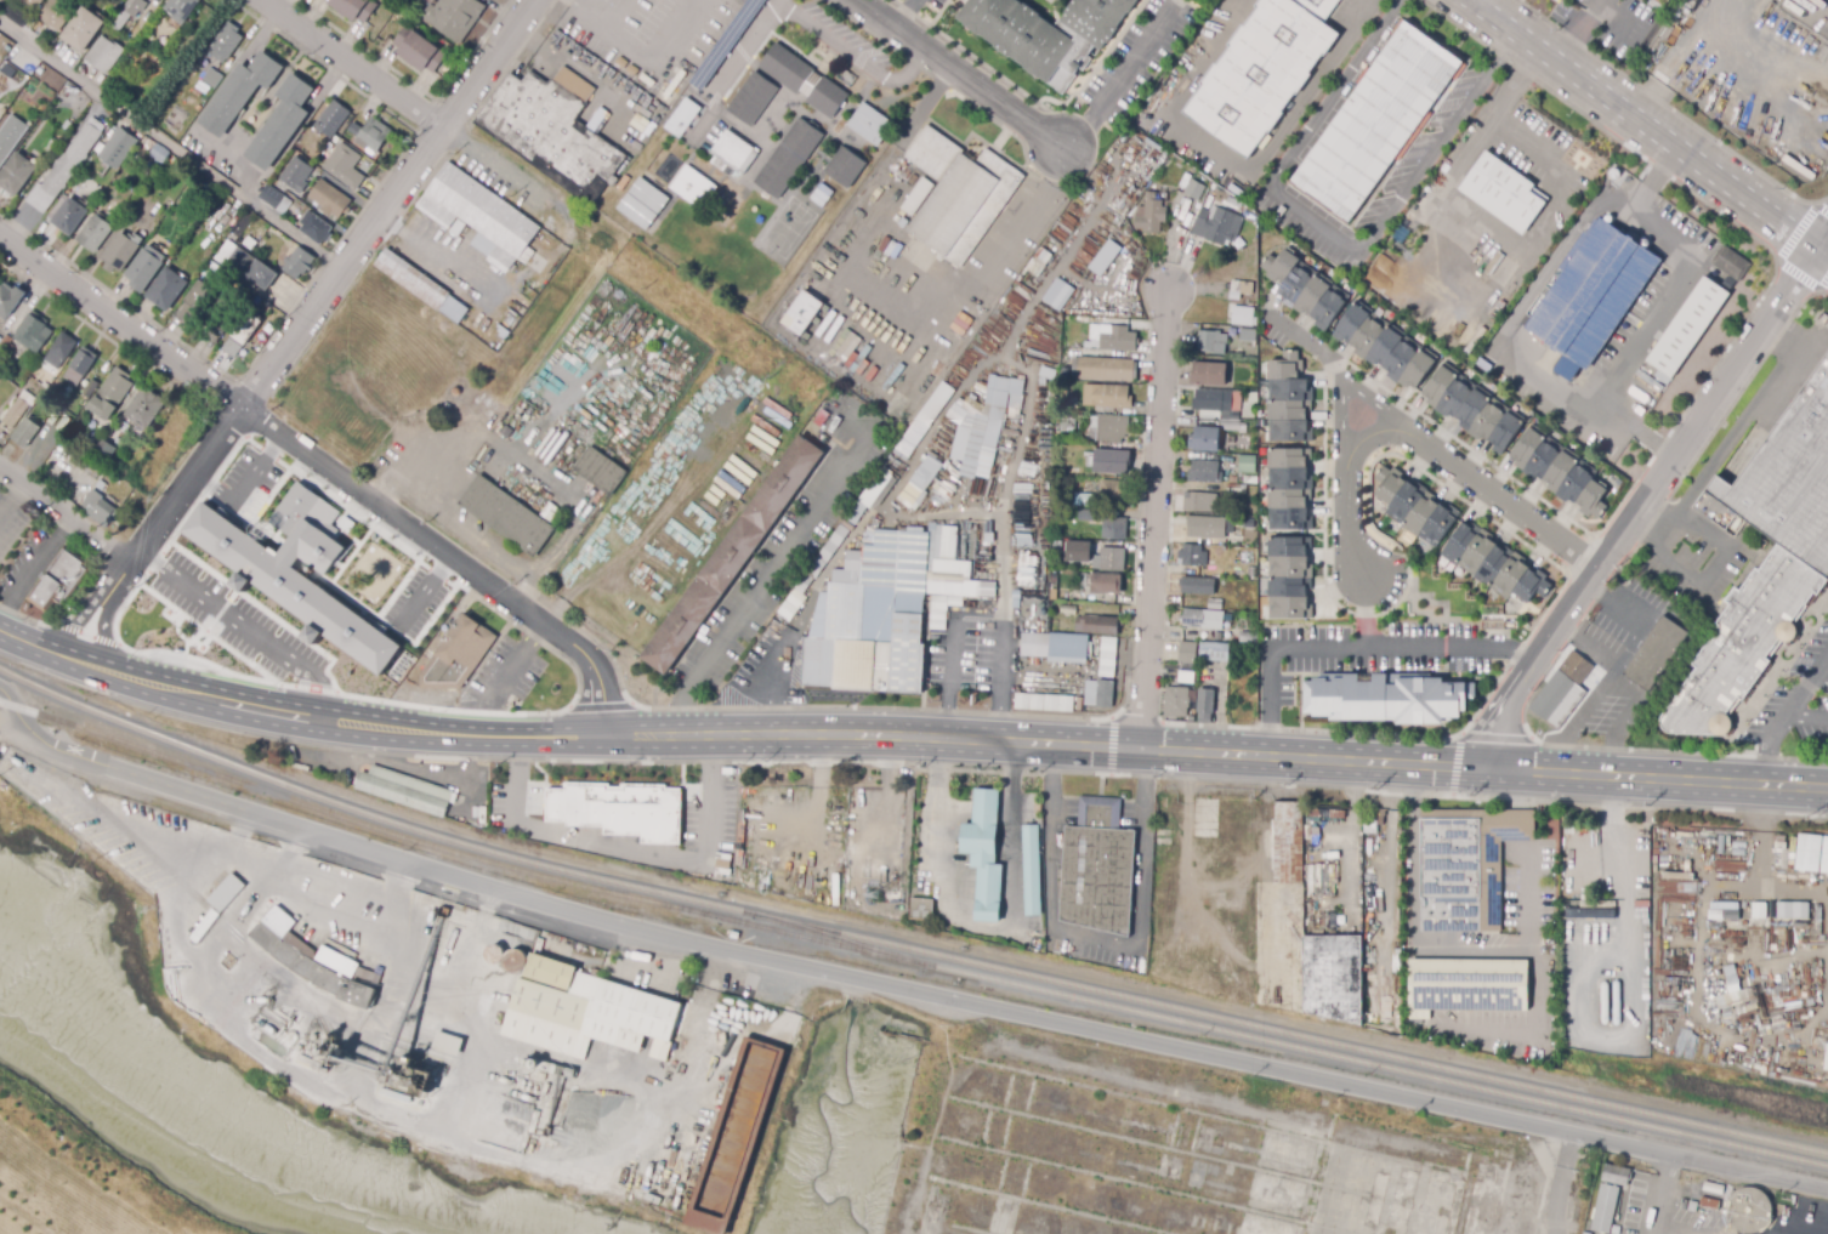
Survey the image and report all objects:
building: (1556, 0)
building: (1561, 0)
road: (1827, 0)
road: (773, 2)
road: (282, 5)
road: (771, 7)
building: (181, 8)
building: (354, 8)
building: (21, 11)
building: (129, 12)
road: (904, 12)
building: (51, 13)
building: (455, 19)
road: (1573, 30)
building: (80, 33)
building: (126, 33)
building: (1046, 34)
building: (227, 41)
building: (419, 50)
building: (104, 55)
building: (784, 67)
building: (1262, 70)
road: (964, 75)
building: (212, 76)
road: (1120, 78)
building: (810, 83)
building: (199, 91)
building: (239, 93)
building: (662, 96)
building: (751, 98)
building: (824, 98)
road: (401, 99)
road: (1491, 113)
building: (685, 114)
building: (331, 119)
building: (280, 123)
building: (1373, 123)
building: (868, 124)
road: (1644, 126)
building: (641, 130)
building: (552, 131)
building: (373, 135)
building: (10, 137)
road: (1305, 138)
road: (171, 143)
road: (1438, 144)
building: (51, 146)
building: (118, 148)
building: (157, 153)
building: (731, 153)
building: (790, 154)
road: (1234, 163)
building: (291, 166)
building: (842, 166)
building: (66, 167)
building: (342, 169)
building: (16, 174)
building: (625, 181)
building: (691, 188)
building: (1193, 189)
building: (1501, 193)
building: (956, 195)
building: (819, 197)
building: (274, 199)
building: (329, 199)
building: (1234, 201)
building: (642, 203)
building: (723, 206)
building: (1248, 214)
building: (478, 215)
building: (1151, 215)
building: (69, 217)
building: (898, 220)
building: (1217, 226)
building: (314, 228)
building: (95, 232)
road: (1824, 246)
road: (998, 248)
building: (121, 251)
road: (1824, 255)
building: (1105, 258)
building: (1728, 262)
building: (297, 263)
building: (244, 267)
building: (1498, 268)
building: (143, 269)
building: (424, 284)
building: (1241, 286)
building: (166, 290)
building: (1589, 294)
building: (1058, 295)
road: (322, 296)
building: (10, 301)
building: (195, 302)
road: (1654, 308)
building: (800, 312)
building: (1243, 317)
building: (218, 325)
building: (1684, 328)
building: (503, 332)
building: (1247, 334)
building: (28, 336)
building: (1112, 339)
building: (238, 340)
building: (1211, 342)
road: (1316, 343)
building: (62, 348)
building: (45, 363)
building: (80, 366)
building: (1105, 369)
building: (1045, 373)
building: (1209, 374)
road: (1345, 386)
building: (1440, 386)
building: (90, 388)
building: (110, 393)
building: (1063, 394)
building: (1106, 397)
building: (1253, 397)
building: (1214, 403)
building: (144, 409)
building: (999, 411)
building: (12, 416)
building: (924, 421)
building: (1098, 426)
building: (27, 433)
building: (1213, 436)
building: (961, 444)
road: (1425, 444)
building: (103, 451)
building: (1108, 462)
building: (1247, 465)
building: (93, 468)
road: (327, 470)
building: (602, 470)
building: (1204, 472)
building: (919, 483)
building: (101, 485)
building: (1215, 487)
building: (1251, 490)
building: (1291, 490)
building: (942, 491)
building: (1114, 491)
road: (1006, 494)
building: (867, 499)
building: (1082, 500)
building: (1203, 504)
road: (1644, 506)
building: (100, 510)
building: (552, 511)
building: (509, 513)
road: (64, 514)
building: (1088, 516)
road: (252, 521)
road: (1153, 522)
building: (1248, 522)
building: (1113, 528)
building: (1209, 528)
building: (989, 538)
building: (1457, 540)
building: (737, 552)
building: (1079, 553)
road: (350, 556)
building: (1194, 557)
road: (782, 559)
building: (1112, 559)
road: (154, 562)
building: (1764, 562)
road: (98, 567)
building: (293, 569)
road: (1720, 569)
building: (812, 573)
building: (1250, 573)
building: (63, 579)
building: (1054, 579)
building: (1082, 580)
building: (1105, 584)
building: (1197, 586)
road: (397, 588)
road: (466, 591)
building: (1016, 595)
building: (791, 604)
building: (1214, 604)
building: (1226, 607)
building: (1016, 608)
road: (220, 610)
road: (266, 610)
building: (887, 610)
building: (1068, 610)
road: (980, 614)
road: (75, 620)
building: (1202, 620)
building: (1096, 625)
road: (244, 626)
road: (67, 627)
road: (1576, 627)
road: (392, 629)
road: (102, 631)
park: (170, 633)
road: (206, 633)
road: (85, 635)
building: (1248, 635)
road: (22, 641)
road: (106, 641)
building: (1056, 648)
road: (1350, 648)
road: (165, 652)
building: (1214, 652)
building: (1187, 653)
building: (456, 654)
building: (1653, 654)
building: (1107, 656)
road: (73, 660)
building: (1185, 677)
road: (1822, 681)
road: (313, 688)
road: (776, 690)
building: (1100, 693)
building: (1562, 693)
building: (1383, 699)
road: (1799, 699)
road: (948, 700)
parking lot: (1796, 700)
building: (1044, 701)
building: (1175, 703)
building: (1078, 704)
road: (600, 705)
road: (1003, 705)
building: (1204, 705)
road: (873, 707)
building: (1221, 717)
road: (1807, 717)
road: (22, 727)
road: (348, 730)
road: (1495, 737)
road: (1111, 744)
railway: (204, 751)
road: (1215, 755)
road: (1767, 763)
road: (1455, 766)
road: (1112, 774)
road: (1350, 786)
building: (407, 790)
building: (626, 813)
building: (1325, 813)
building: (1205, 818)
building: (1376, 820)
building: (742, 826)
road: (529, 828)
building: (1369, 838)
road: (704, 841)
road: (293, 852)
building: (983, 852)
building: (1823, 855)
road: (1345, 863)
road: (901, 865)
building: (1096, 868)
building: (1031, 869)
railway: (581, 871)
building: (1447, 876)
building: (719, 878)
road: (402, 886)
building: (225, 892)
building: (893, 897)
road: (255, 900)
building: (921, 910)
building: (1792, 910)
building: (1731, 912)
road: (986, 926)
railway: (828, 927)
road: (1100, 938)
building: (1308, 938)
road: (721, 945)
road: (1430, 951)
building: (493, 954)
building: (314, 961)
road: (211, 974)
building: (1464, 986)
building: (1732, 988)
road: (1624, 989)
road: (444, 997)
building: (1241, 997)
building: (590, 1008)
building: (448, 1039)
railway: (1289, 1041)
railway: (1364, 1045)
building: (1827, 1062)
road: (1521, 1121)
building: (739, 1135)
road: (1694, 1160)
building: (1617, 1175)
park: (79, 1178)
building: (592, 1179)
road: (1560, 1182)
road: (1662, 1194)
building: (1709, 1204)
building: (1605, 1209)
building: (1749, 1209)
road: (33, 1213)

